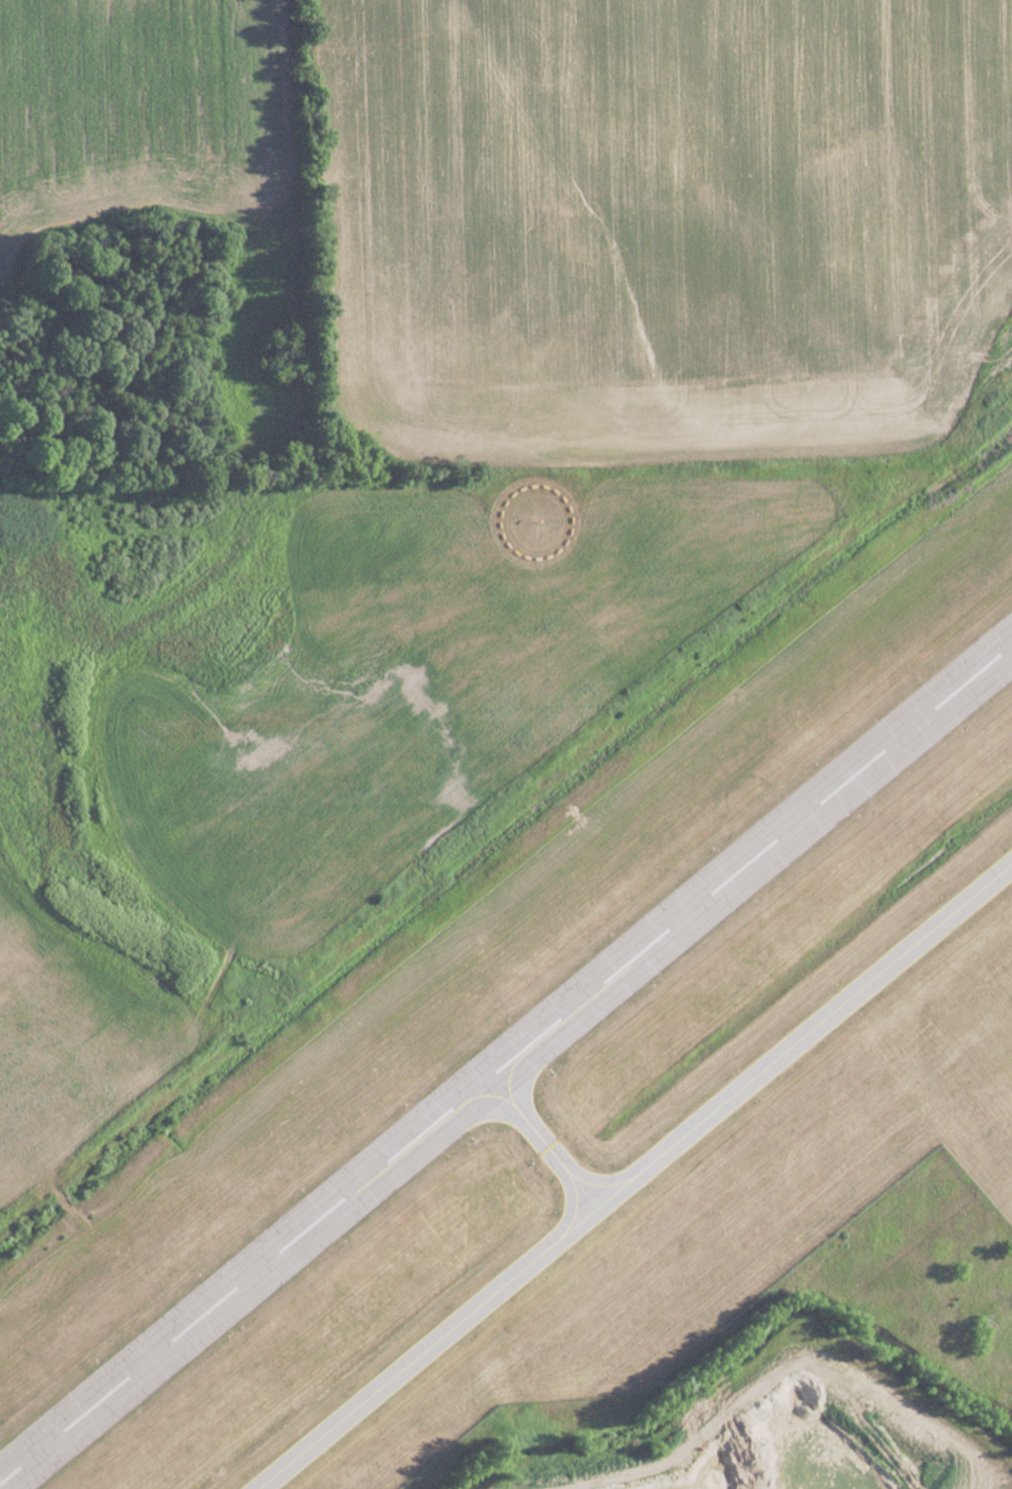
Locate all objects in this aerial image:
airport runway: (505, 1054)
airport taxiway: (540, 1136)
airport taxiway: (629, 1172)

